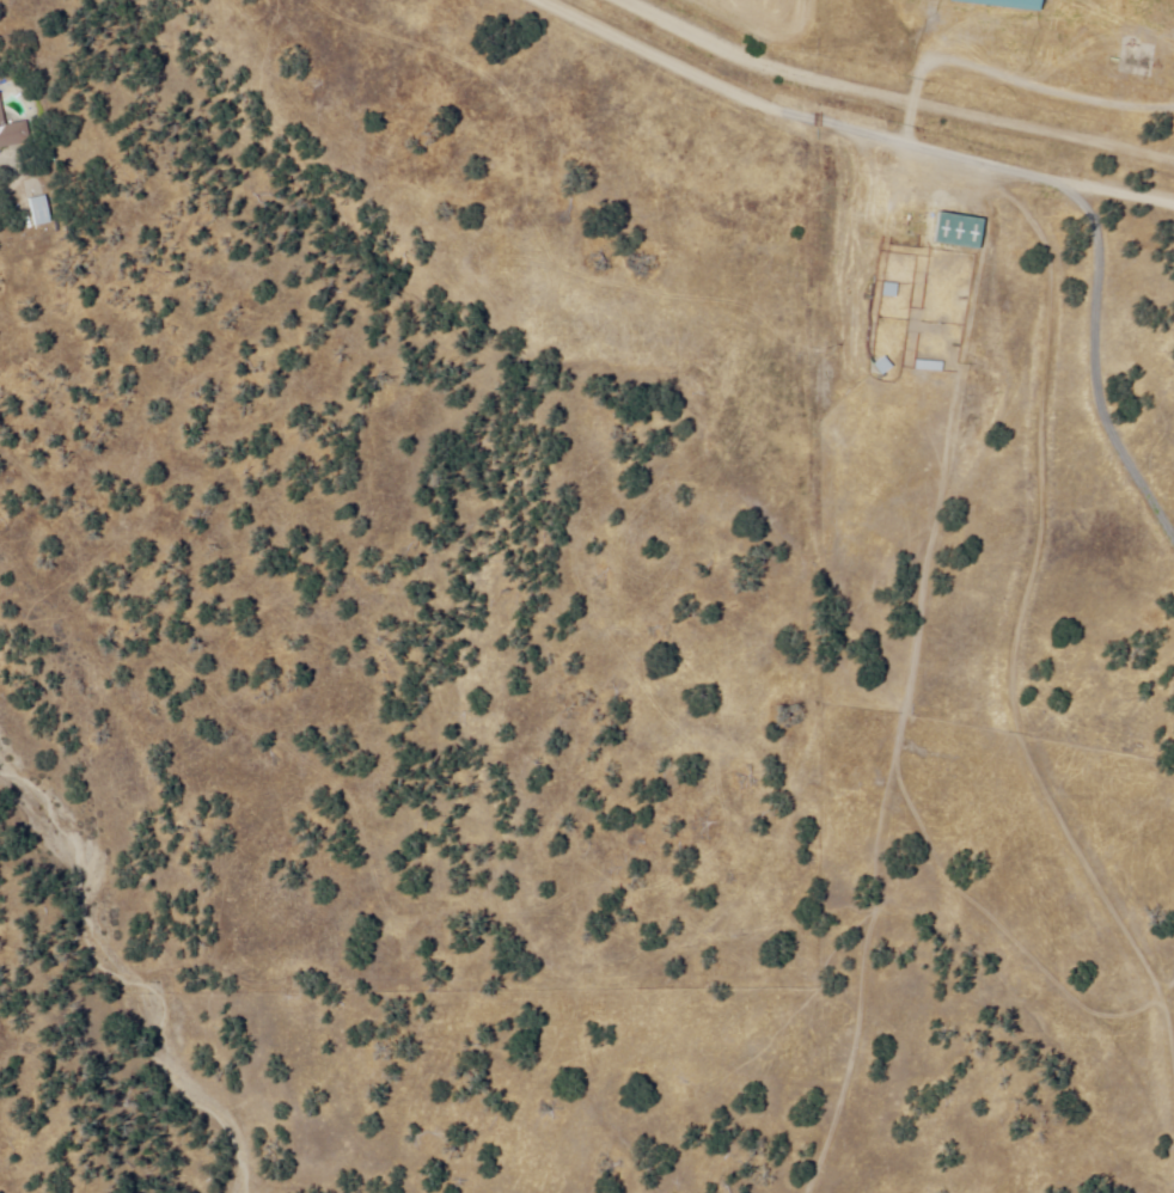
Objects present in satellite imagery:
building: (1017, 2)
road: (760, 66)
building: (14, 128)
road: (843, 128)
road: (1042, 134)
building: (41, 208)
building: (958, 228)
building: (925, 367)

